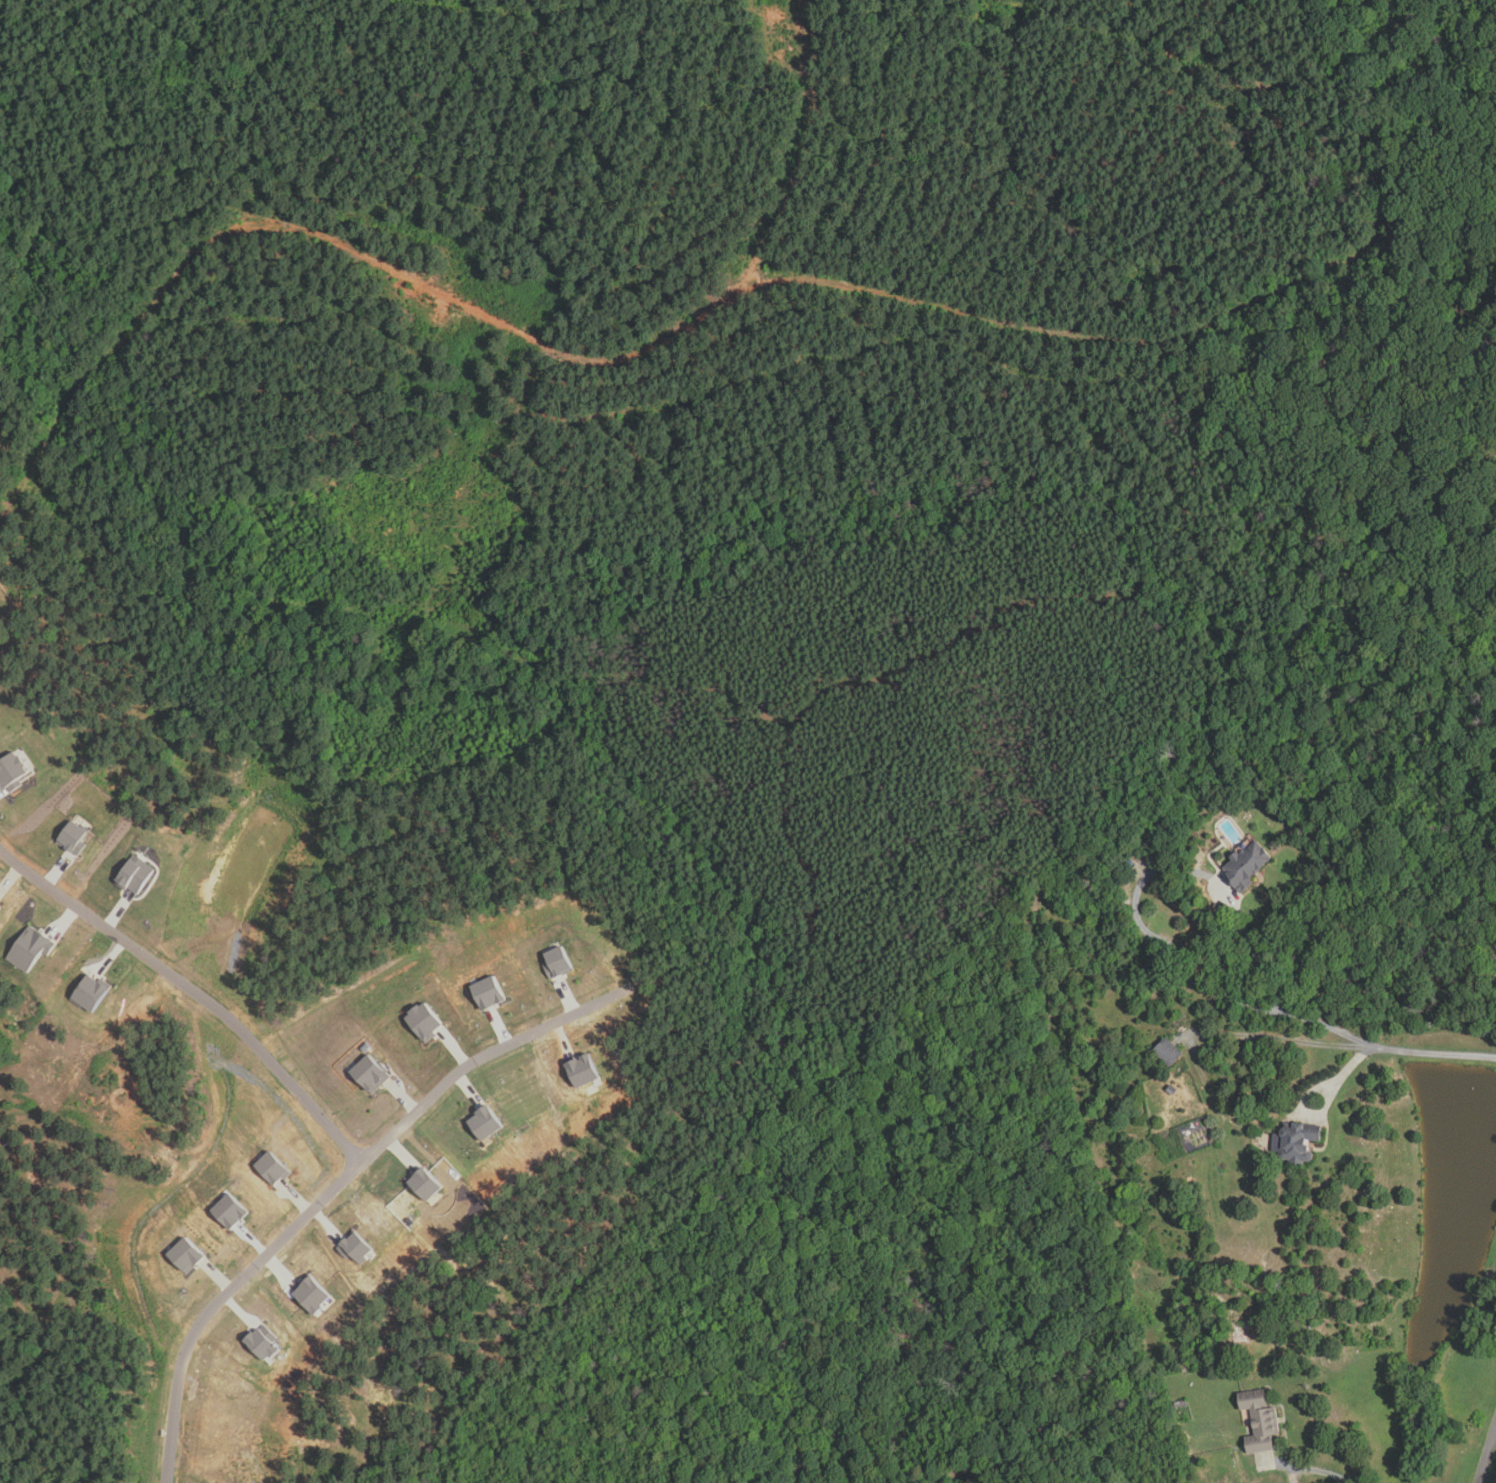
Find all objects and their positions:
building: (11, 773)
building: (72, 839)
building: (1247, 866)
road: (1190, 871)
building: (134, 875)
park: (417, 881)
building: (0, 908)
building: (30, 949)
building: (556, 963)
road: (193, 990)
building: (90, 993)
building: (487, 994)
building: (423, 1022)
road: (1285, 1039)
road: (1433, 1052)
building: (1167, 1053)
building: (582, 1072)
building: (371, 1075)
building: (1172, 1090)
road: (1321, 1109)
building: (484, 1123)
building: (1297, 1142)
building: (272, 1170)
building: (423, 1184)
road: (336, 1186)
building: (229, 1212)
building: (354, 1249)
building: (185, 1258)
building: (311, 1295)
building: (263, 1342)
building: (1260, 1421)
road: (1487, 1456)
road: (1328, 1472)

